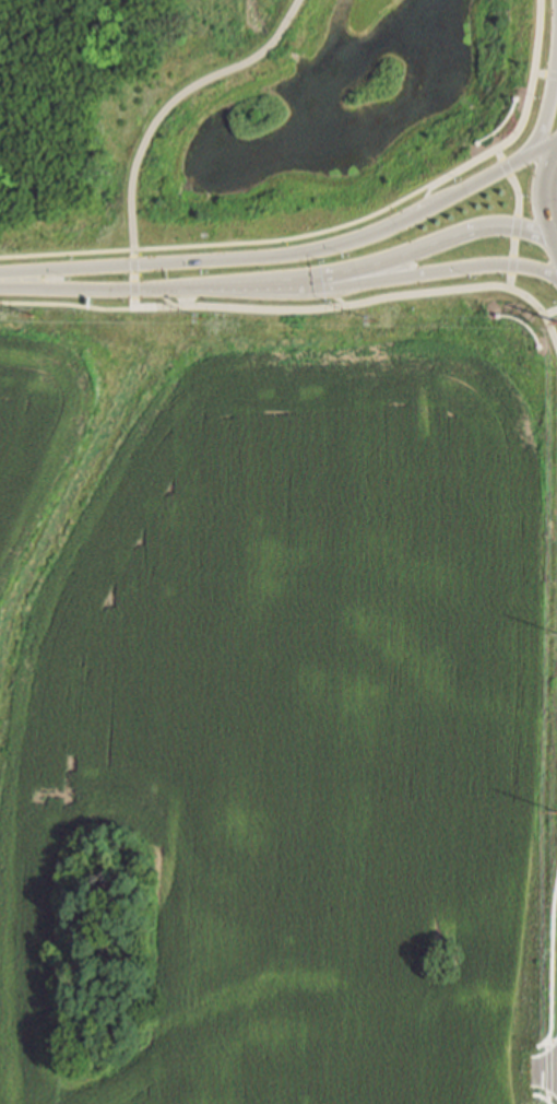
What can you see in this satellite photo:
road: (547, 74)
road: (178, 99)
road: (548, 119)
park: (276, 133)
road: (490, 179)
road: (546, 189)
road: (430, 199)
road: (403, 202)
road: (522, 216)
road: (68, 254)
road: (215, 260)
road: (383, 260)
road: (440, 271)
road: (137, 280)
road: (103, 289)
road: (265, 290)
road: (190, 296)
road: (167, 297)
road: (337, 297)
road: (68, 305)
road: (357, 305)
road: (553, 313)
power tower: (33, 315)
power tower: (202, 319)
power tower: (372, 321)
crop: (280, 697)
road: (553, 995)
road: (549, 1059)

